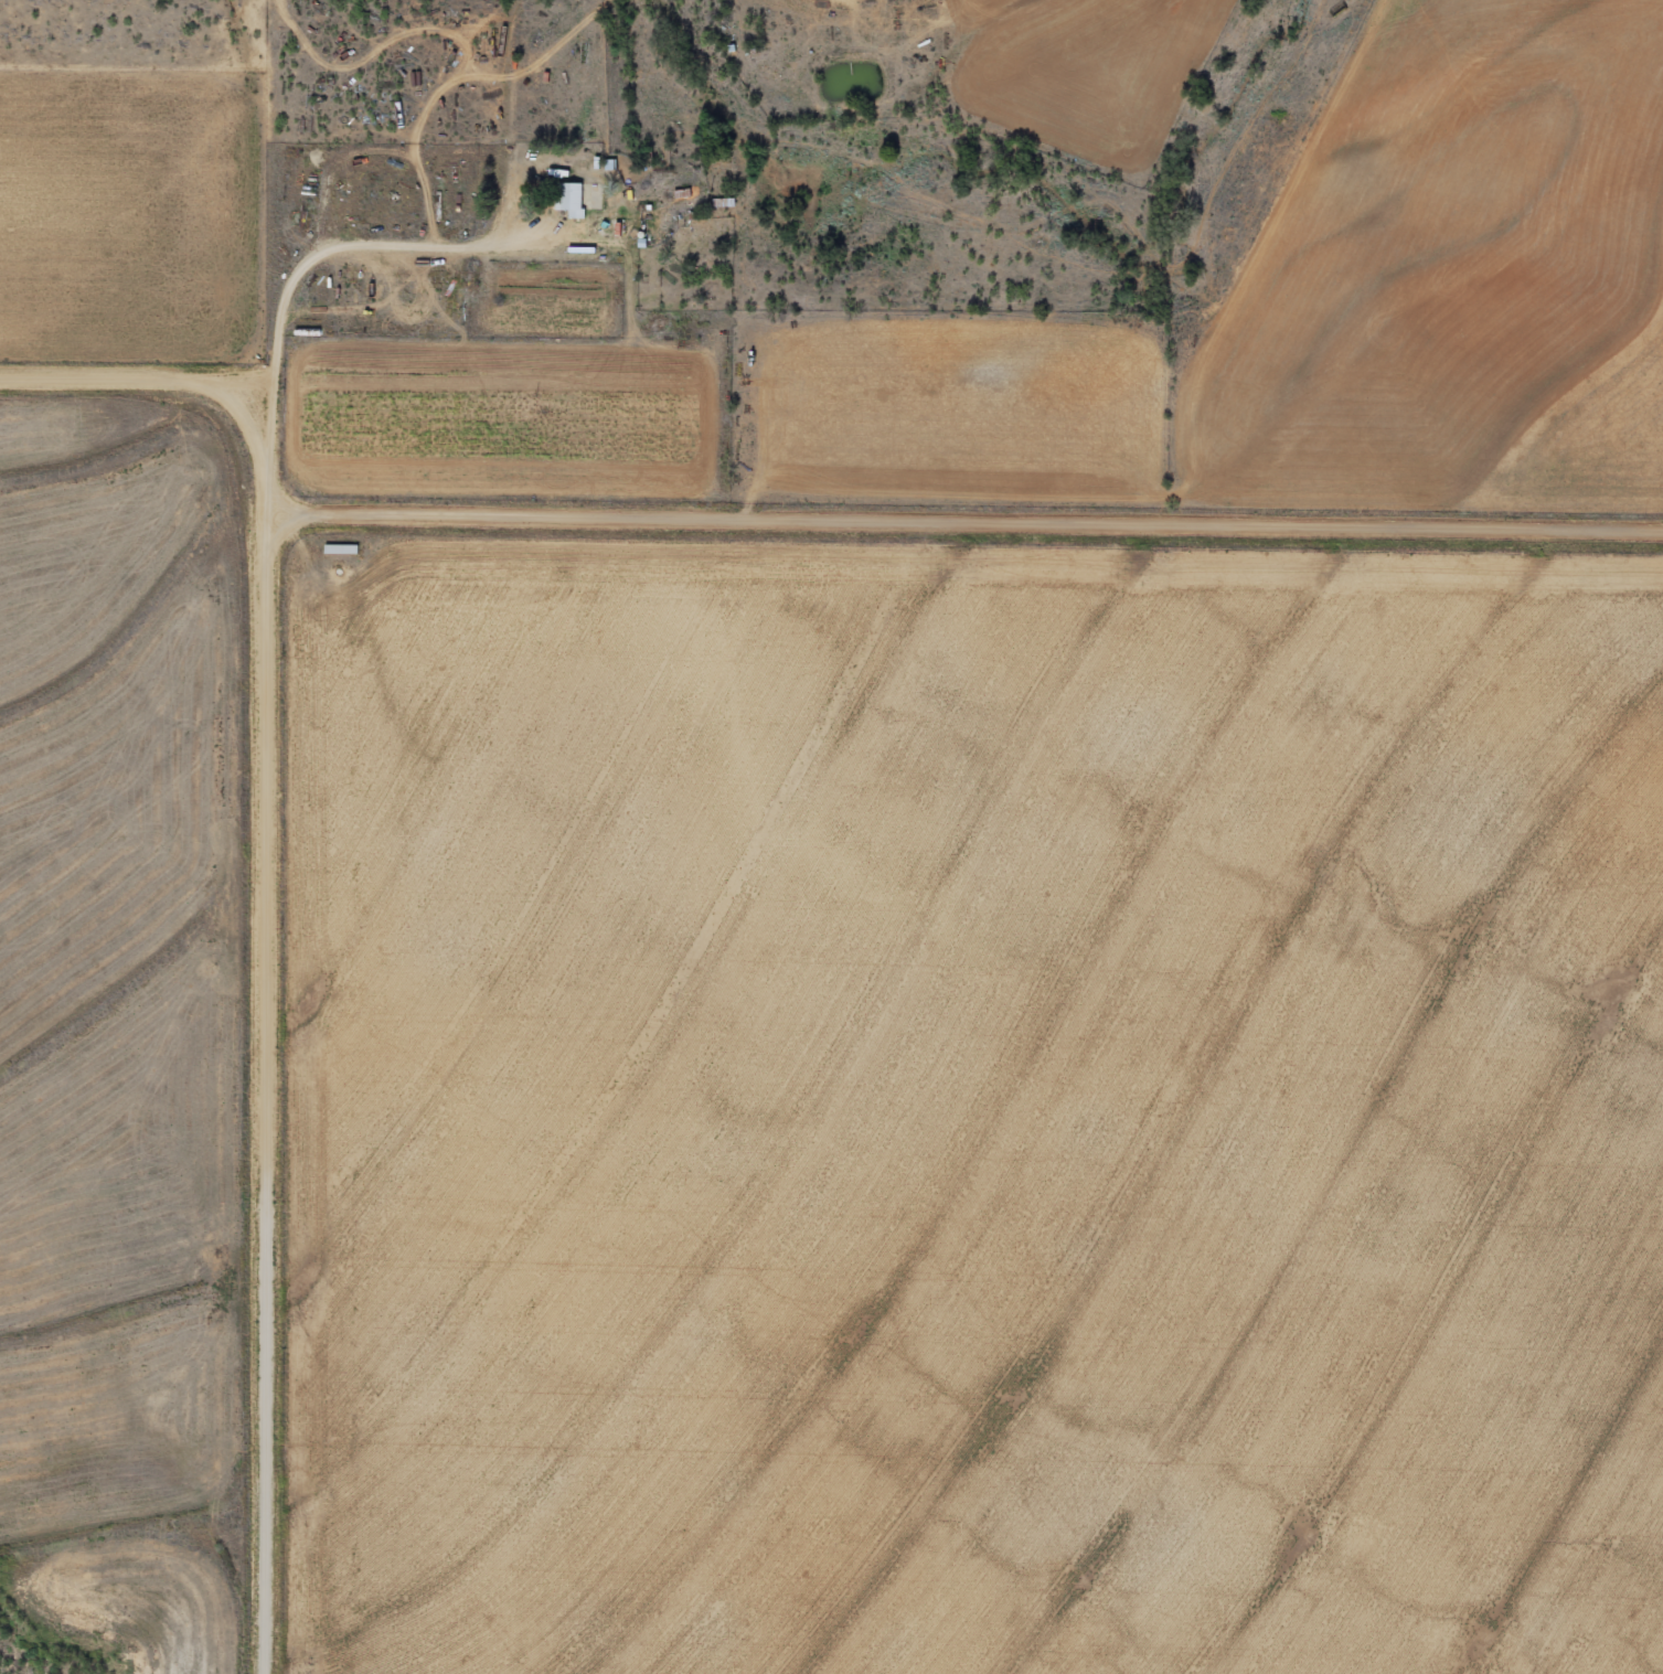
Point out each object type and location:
building: (582, 200)
road: (256, 337)
road: (787, 516)
building: (344, 552)
road: (274, 1089)

